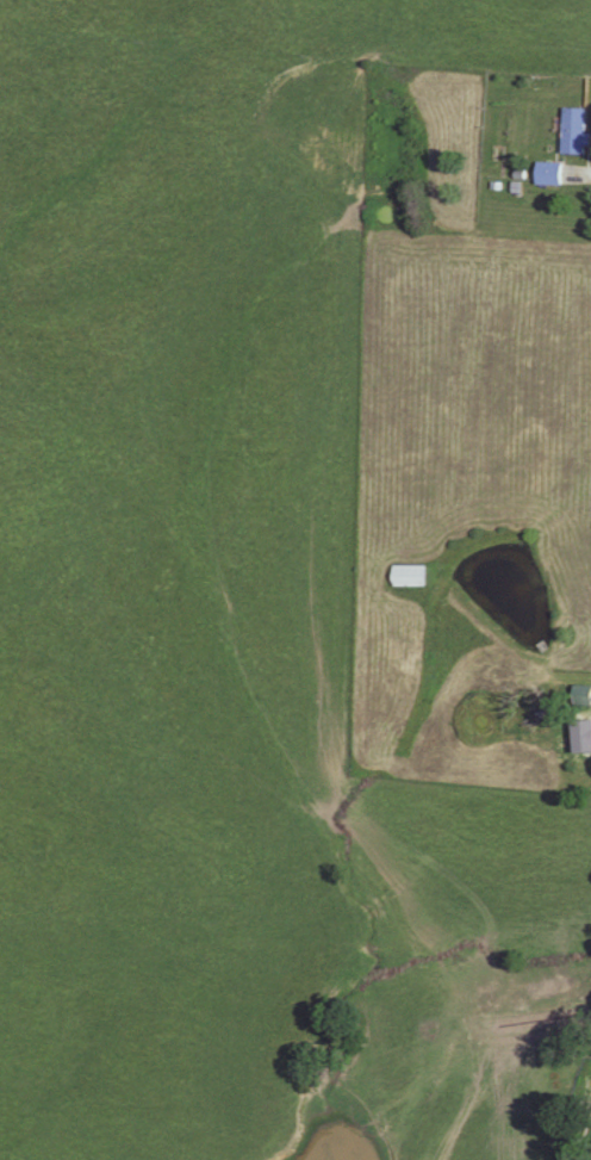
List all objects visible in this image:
building: (576, 131)
building: (550, 174)
building: (410, 577)
building: (583, 696)
building: (589, 731)

